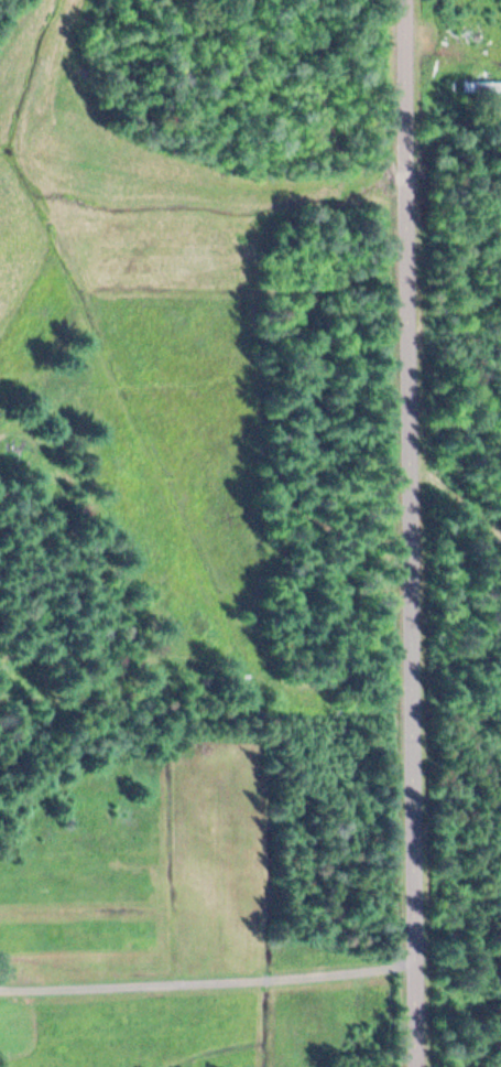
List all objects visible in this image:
building: (481, 85)
road: (407, 533)
road: (206, 983)

